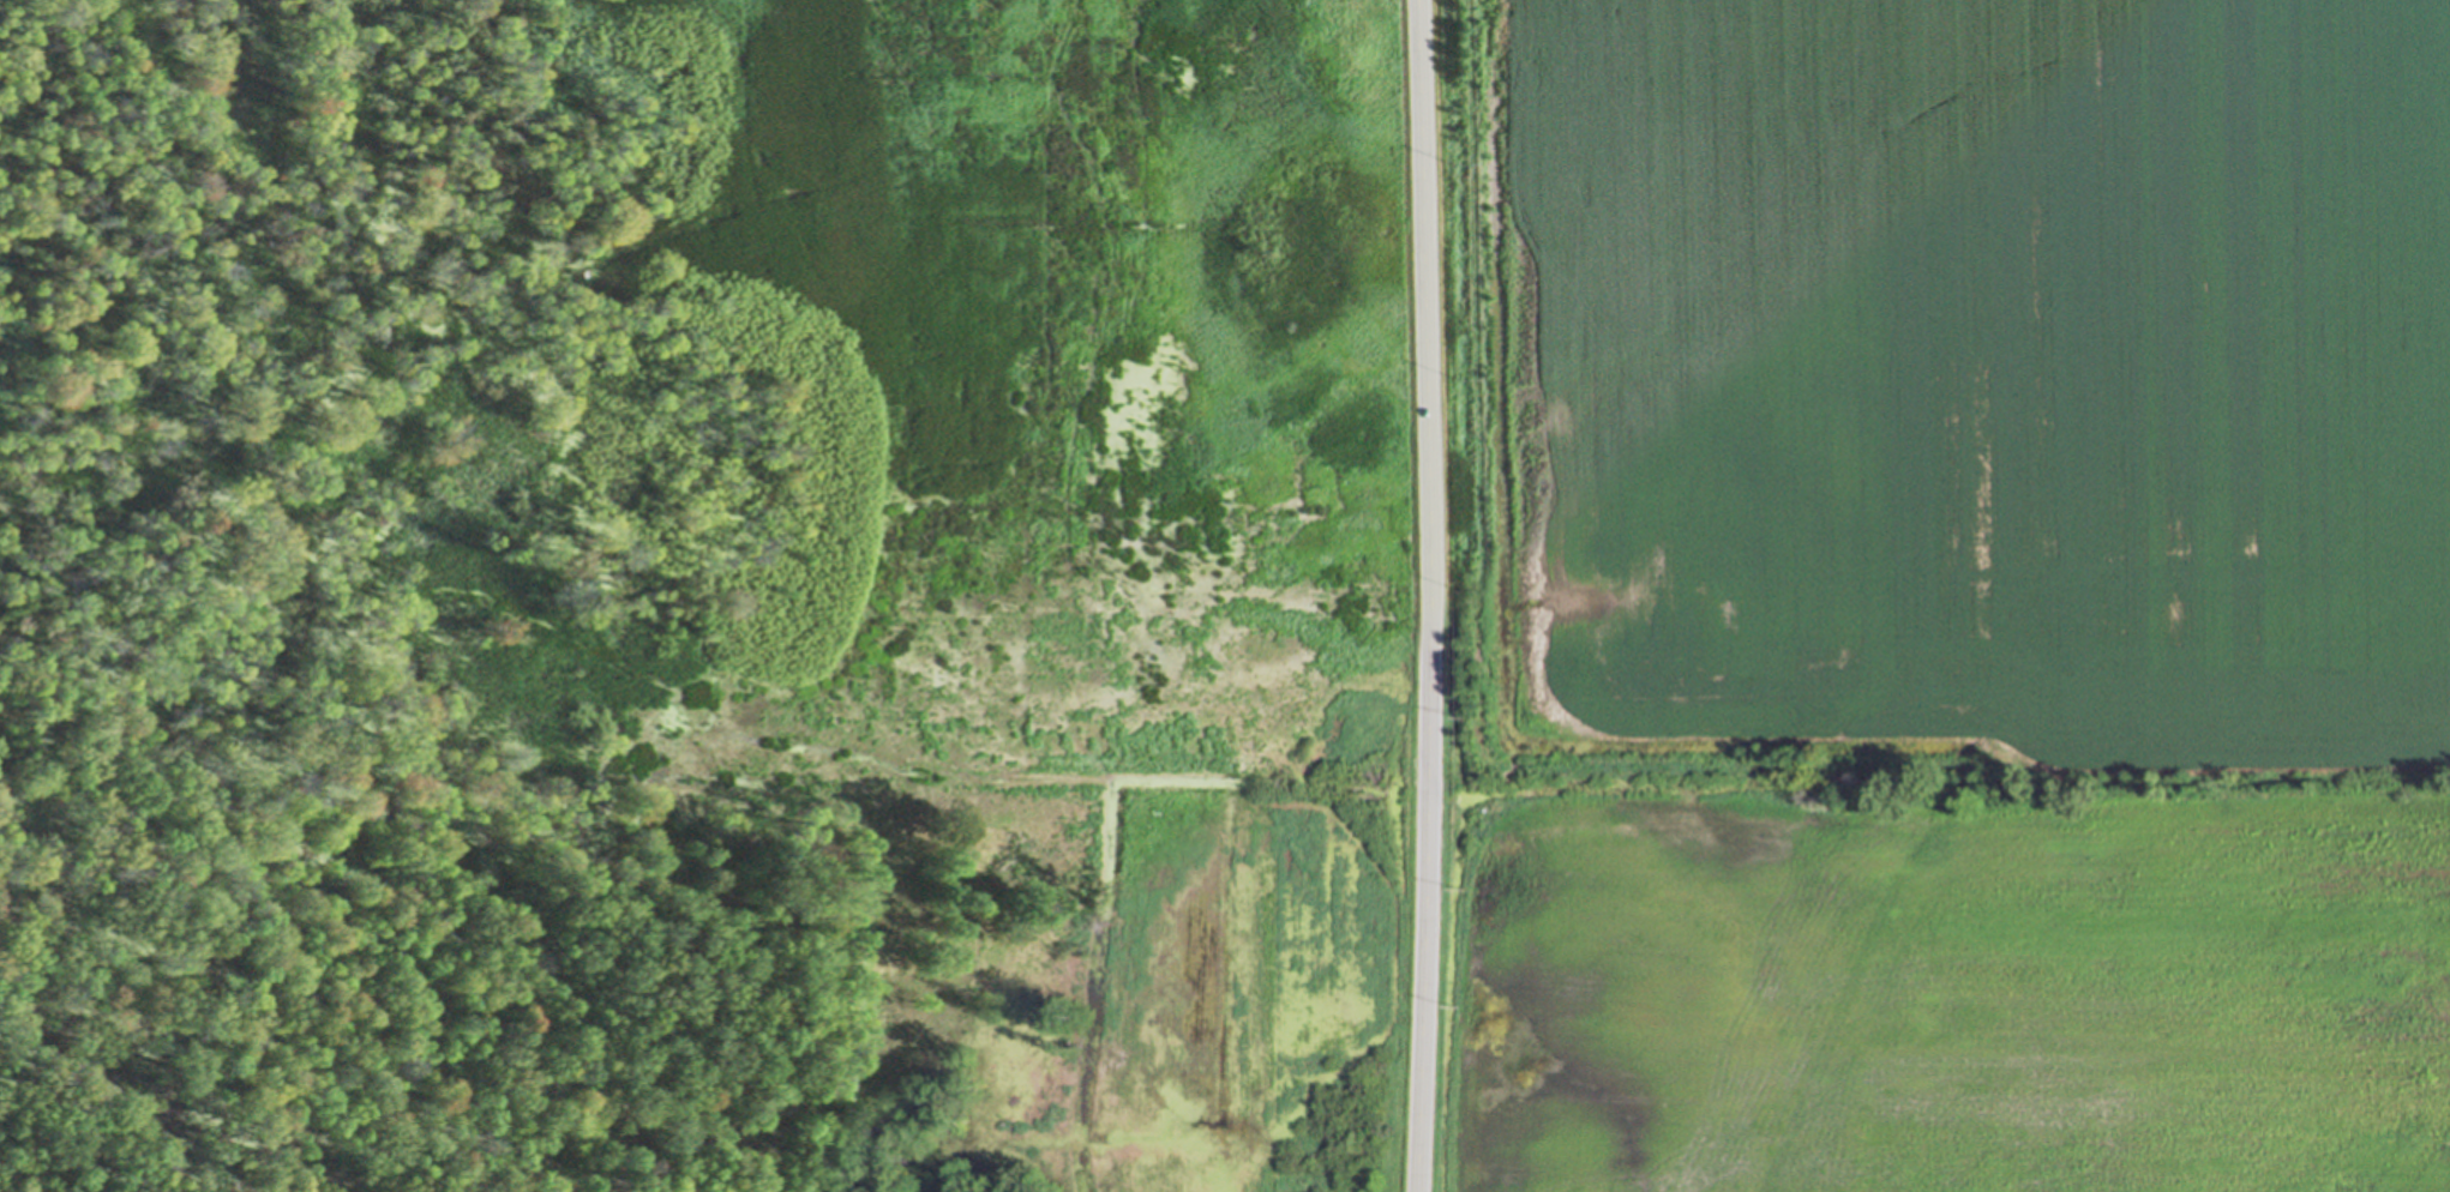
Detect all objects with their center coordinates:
road: (1433, 595)

